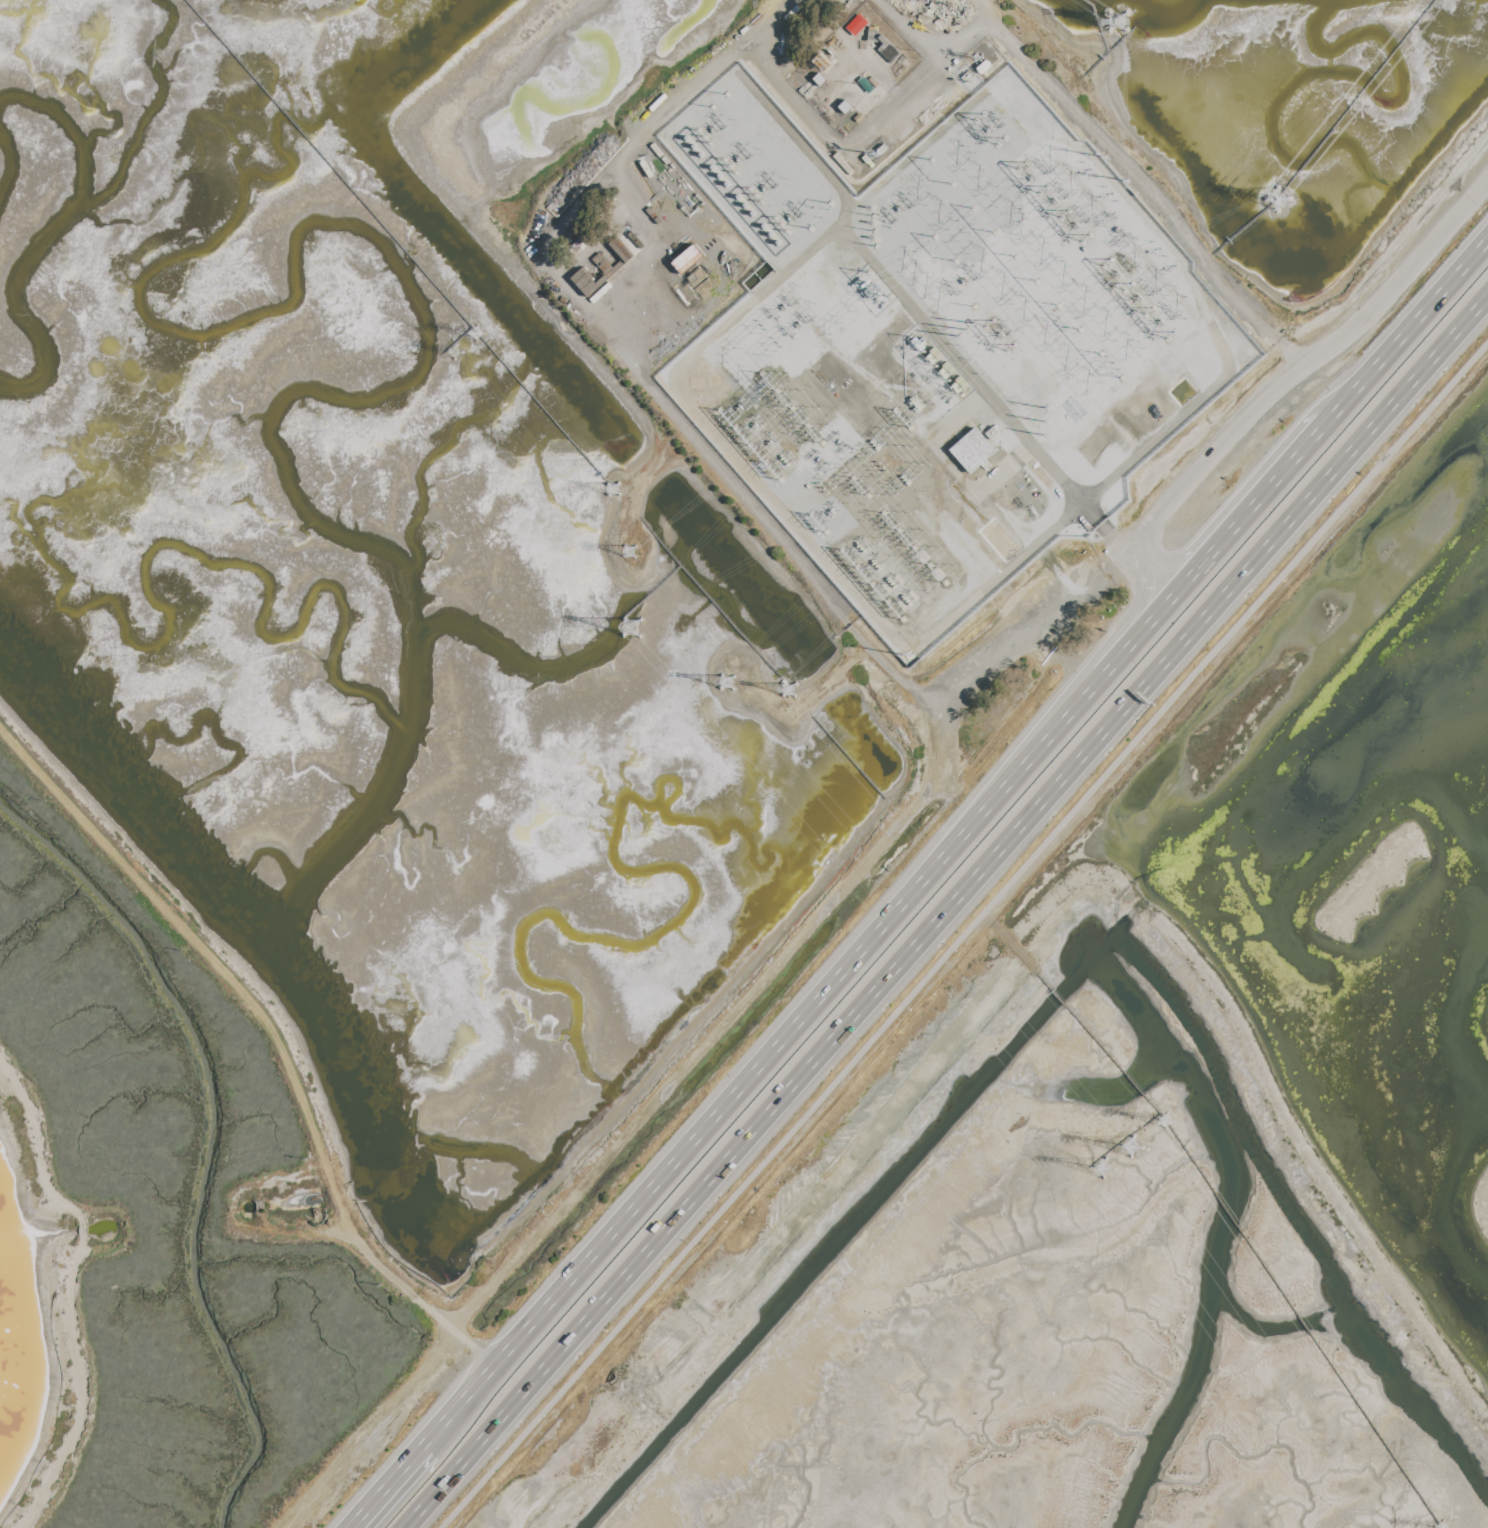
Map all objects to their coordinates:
power tower: (1117, 19)
building: (855, 25)
road: (1096, 140)
road: (802, 148)
power tower: (1277, 200)
power tower: (1089, 203)
building: (686, 259)
power tower: (1121, 290)
road: (756, 302)
road: (583, 303)
road: (1408, 330)
power tower: (475, 337)
power substation: (940, 347)
power tower: (459, 355)
road: (1306, 366)
road: (985, 394)
power tower: (733, 426)
building: (971, 451)
power tower: (763, 457)
road: (1107, 484)
power tower: (614, 492)
road: (1235, 499)
road: (1214, 549)
power tower: (632, 552)
road: (1129, 617)
power tower: (633, 625)
road: (984, 653)
power tower: (728, 680)
power tower: (788, 691)
road: (948, 915)
road: (967, 937)
road: (243, 990)
road: (708, 1038)
road: (763, 1064)
power tower: (1170, 1125)
power tower: (1133, 1147)
power tower: (1108, 1169)
road: (67, 1272)
road: (474, 1346)
road: (391, 1488)

